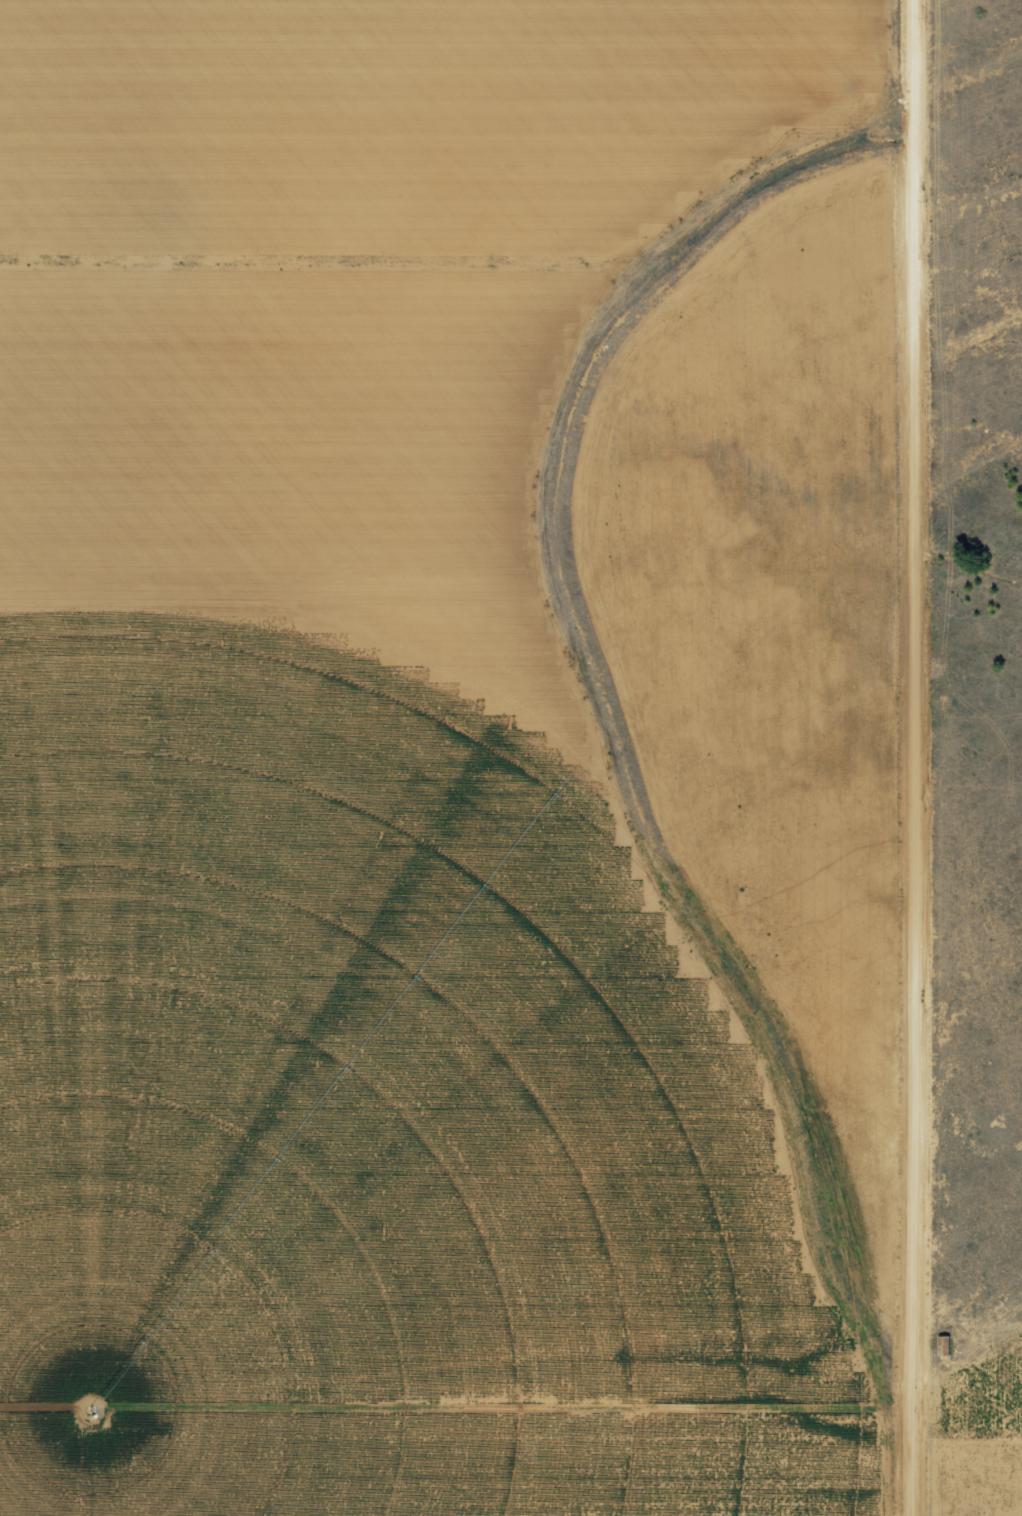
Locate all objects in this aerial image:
road: (912, 758)

